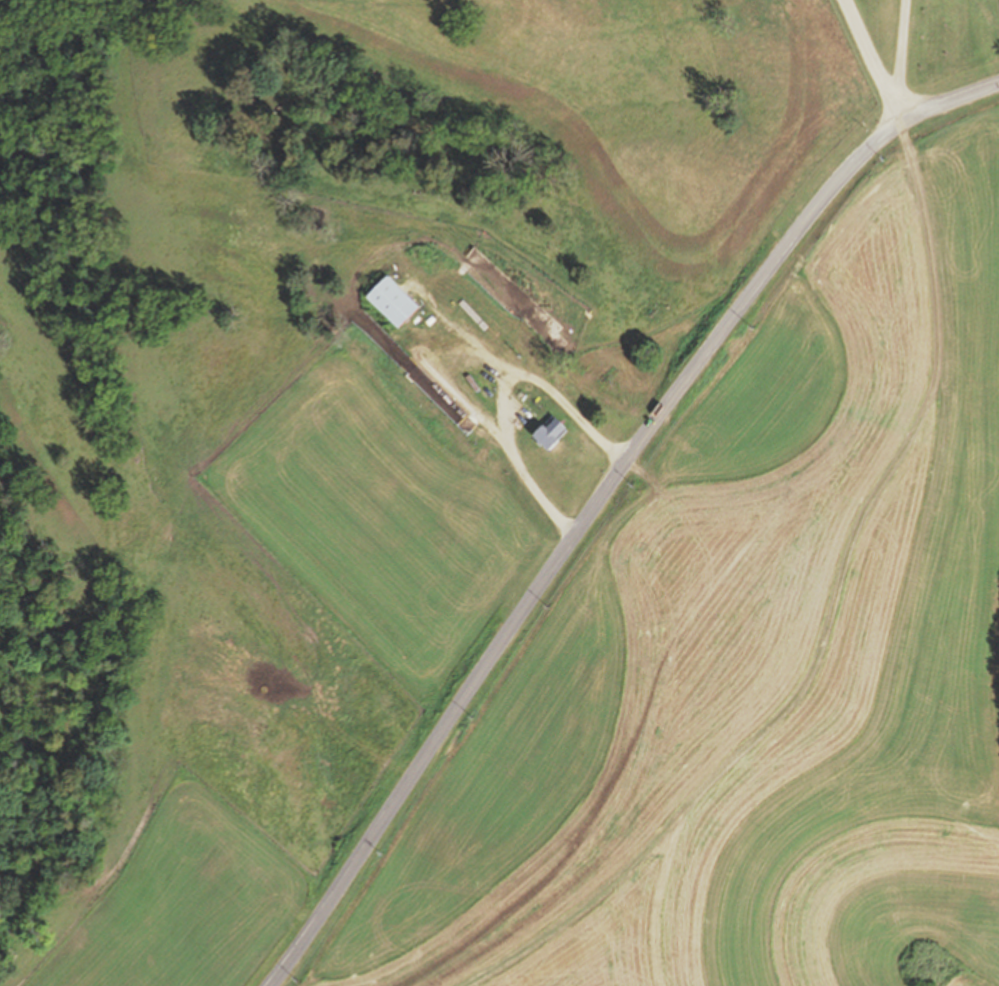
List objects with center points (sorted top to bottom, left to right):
road: (902, 47)
road: (870, 48)
road: (902, 109)
building: (482, 295)
building: (393, 302)
building: (422, 364)
building: (449, 389)
building: (473, 410)
building: (550, 434)
building: (498, 440)
road: (602, 503)

